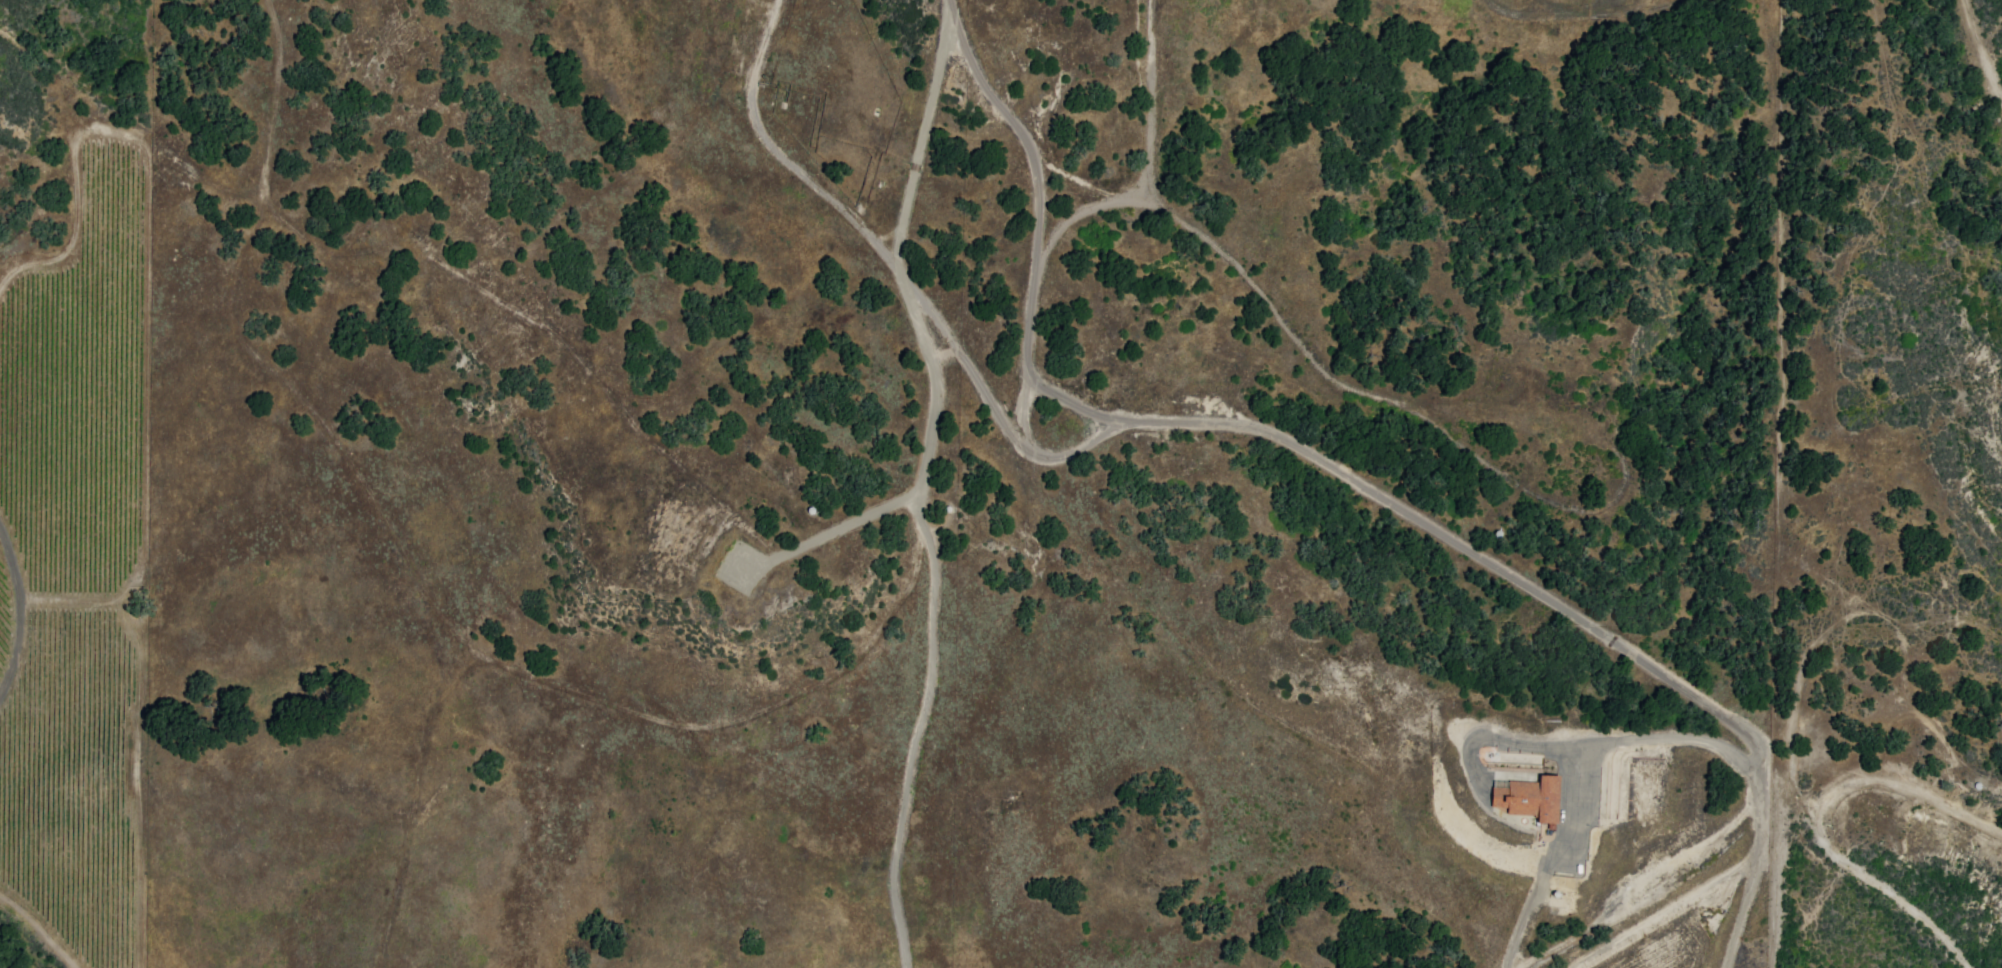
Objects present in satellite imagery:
road: (1652, 6)
road: (1563, 13)
road: (1978, 50)
road: (682, 97)
road: (1166, 204)
road: (1041, 253)
road: (1825, 306)
road: (972, 358)
road: (1984, 399)
road: (983, 406)
road: (928, 450)
road: (1621, 463)
road: (1532, 588)
road: (1794, 711)
road: (1511, 718)
building: (1527, 797)
road: (1882, 884)
road: (1523, 920)

